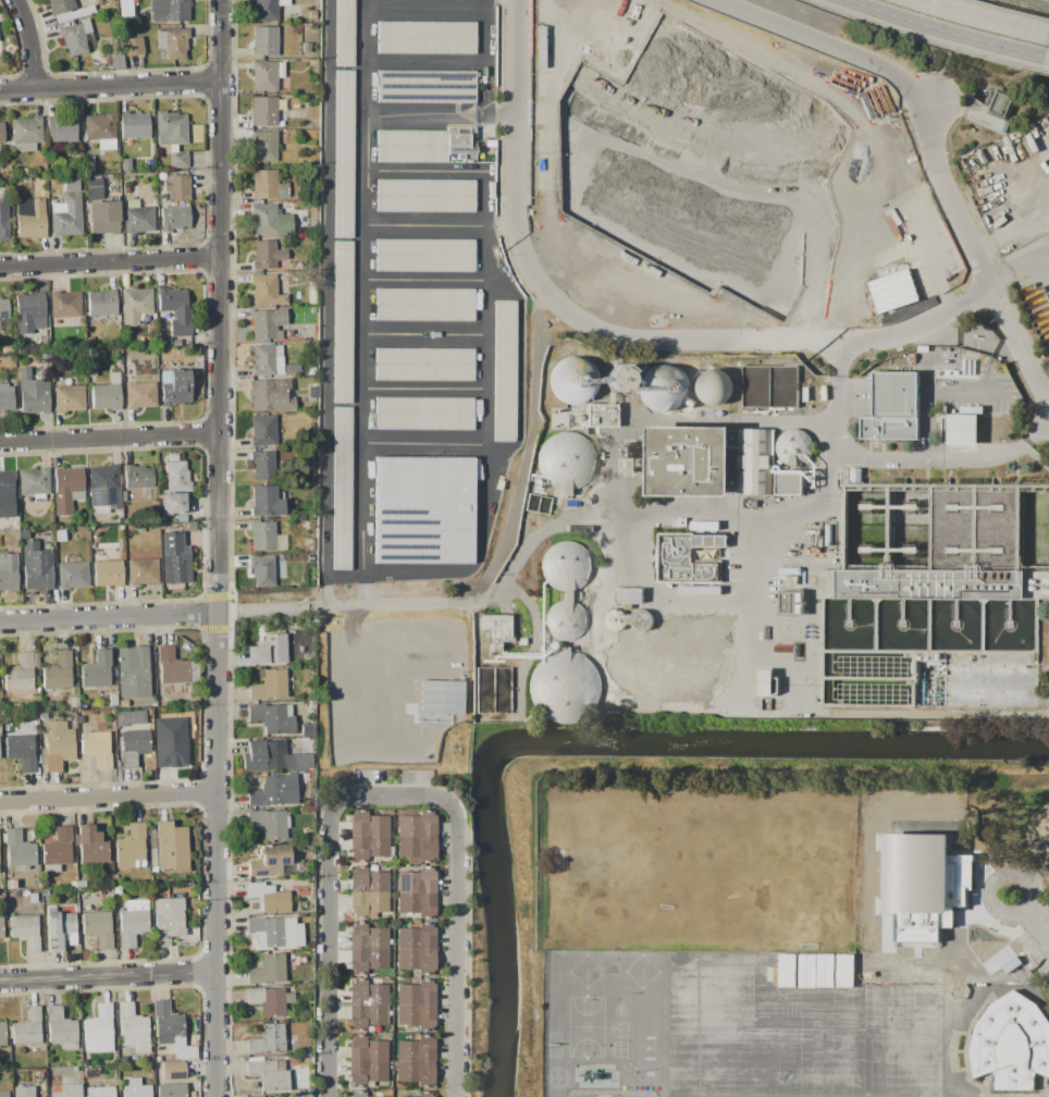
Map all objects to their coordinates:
road: (424, 1)
building: (60, 5)
building: (170, 11)
building: (266, 11)
road: (1007, 11)
road: (980, 21)
road: (365, 29)
road: (939, 30)
building: (344, 33)
building: (76, 36)
building: (425, 36)
road: (917, 39)
building: (264, 40)
road: (32, 42)
building: (173, 42)
building: (133, 46)
road: (1042, 58)
building: (116, 60)
road: (456, 61)
road: (1041, 71)
building: (267, 75)
road: (110, 85)
building: (425, 86)
road: (366, 87)
road: (527, 101)
road: (517, 104)
road: (931, 107)
building: (264, 111)
building: (134, 125)
building: (61, 128)
building: (170, 128)
building: (101, 131)
building: (1, 133)
building: (26, 133)
building: (264, 146)
building: (433, 146)
road: (931, 149)
road: (502, 152)
building: (343, 153)
building: (178, 159)
building: (125, 164)
road: (451, 169)
building: (95, 183)
building: (71, 185)
building: (268, 185)
building: (177, 188)
building: (126, 190)
building: (424, 196)
building: (66, 215)
building: (32, 217)
building: (137, 217)
building: (103, 218)
building: (174, 218)
building: (3, 220)
building: (270, 220)
road: (1035, 221)
building: (878, 243)
building: (268, 254)
building: (423, 256)
road: (110, 259)
road: (928, 262)
road: (421, 279)
building: (267, 291)
building: (101, 303)
building: (64, 305)
building: (135, 305)
building: (424, 305)
building: (175, 310)
building: (30, 312)
building: (3, 315)
building: (343, 321)
building: (268, 324)
road: (916, 325)
road: (639, 337)
building: (268, 360)
building: (423, 365)
building: (504, 370)
building: (617, 379)
building: (572, 380)
building: (713, 385)
road: (422, 386)
building: (769, 386)
building: (175, 387)
building: (664, 387)
road: (1046, 390)
building: (33, 394)
building: (107, 394)
road: (931, 394)
building: (140, 395)
building: (270, 395)
building: (5, 397)
building: (69, 398)
building: (893, 407)
building: (423, 414)
building: (601, 416)
building: (963, 430)
building: (263, 431)
road: (486, 435)
road: (110, 436)
road: (422, 441)
building: (793, 447)
road: (526, 448)
road: (946, 458)
building: (566, 460)
building: (689, 460)
building: (754, 461)
building: (262, 465)
building: (138, 477)
building: (177, 477)
building: (34, 483)
building: (789, 483)
building: (5, 486)
building: (104, 488)
building: (67, 489)
building: (341, 489)
building: (266, 502)
building: (174, 503)
road: (716, 509)
building: (422, 510)
building: (890, 531)
building: (60, 537)
building: (266, 537)
road: (219, 548)
building: (176, 558)
building: (687, 558)
building: (36, 566)
building: (565, 566)
building: (106, 569)
building: (9, 570)
building: (143, 571)
building: (262, 571)
building: (73, 575)
building: (929, 586)
road: (654, 588)
building: (629, 595)
building: (792, 603)
road: (388, 605)
road: (740, 608)
road: (152, 615)
building: (564, 620)
building: (615, 620)
building: (642, 620)
building: (700, 625)
building: (496, 628)
building: (267, 649)
building: (628, 663)
building: (688, 664)
building: (172, 667)
building: (96, 670)
building: (58, 671)
building: (133, 671)
building: (18, 674)
building: (764, 682)
building: (270, 685)
building: (564, 687)
building: (493, 691)
road: (355, 702)
building: (129, 717)
building: (272, 718)
building: (307, 730)
building: (170, 743)
building: (58, 744)
building: (135, 745)
building: (96, 748)
building: (22, 751)
building: (264, 755)
building: (303, 762)
building: (274, 791)
road: (393, 796)
road: (109, 798)
building: (268, 823)
building: (367, 835)
building: (416, 836)
building: (91, 845)
building: (131, 847)
building: (58, 848)
building: (172, 848)
building: (20, 850)
building: (270, 861)
park: (1010, 864)
park: (757, 870)
road: (1031, 883)
building: (367, 891)
building: (415, 891)
building: (268, 898)
building: (168, 920)
building: (133, 921)
road: (1031, 923)
building: (60, 926)
building: (1, 928)
building: (98, 928)
building: (25, 932)
building: (272, 932)
building: (367, 948)
building: (416, 949)
building: (268, 970)
building: (843, 970)
road: (108, 975)
building: (270, 1000)
building: (367, 1004)
building: (415, 1004)
building: (168, 1024)
building: (27, 1027)
building: (60, 1027)
building: (133, 1027)
building: (98, 1030)
building: (2, 1034)
building: (268, 1039)
building: (1012, 1044)
building: (366, 1061)
building: (416, 1061)
building: (605, 1061)
building: (174, 1071)
building: (269, 1074)
building: (618, 1074)
building: (580, 1085)
building: (136, 1089)
building: (171, 1089)
building: (65, 1090)
building: (24, 1092)
building: (100, 1092)
building: (596, 1093)
building: (3, 1094)
building: (361, 1094)
building: (424, 1094)
building: (296, 1095)
building: (256, 1096)

